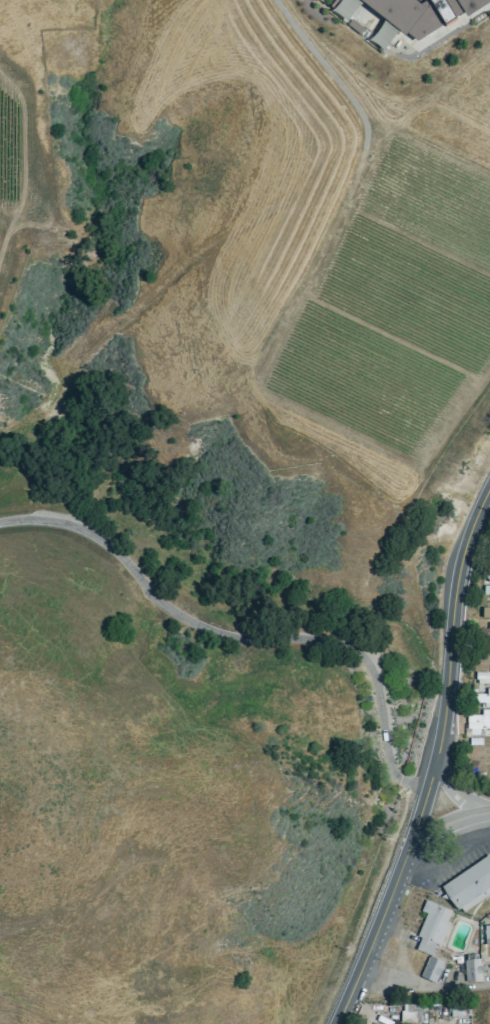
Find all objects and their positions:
building: (341, 6)
building: (411, 15)
building: (487, 573)
building: (485, 590)
building: (484, 612)
building: (485, 630)
road: (245, 640)
building: (485, 656)
building: (482, 676)
building: (481, 696)
building: (477, 722)
road: (436, 768)
road: (457, 790)
road: (443, 827)
building: (470, 883)
building: (487, 933)
building: (432, 935)
building: (473, 970)
building: (412, 1012)

